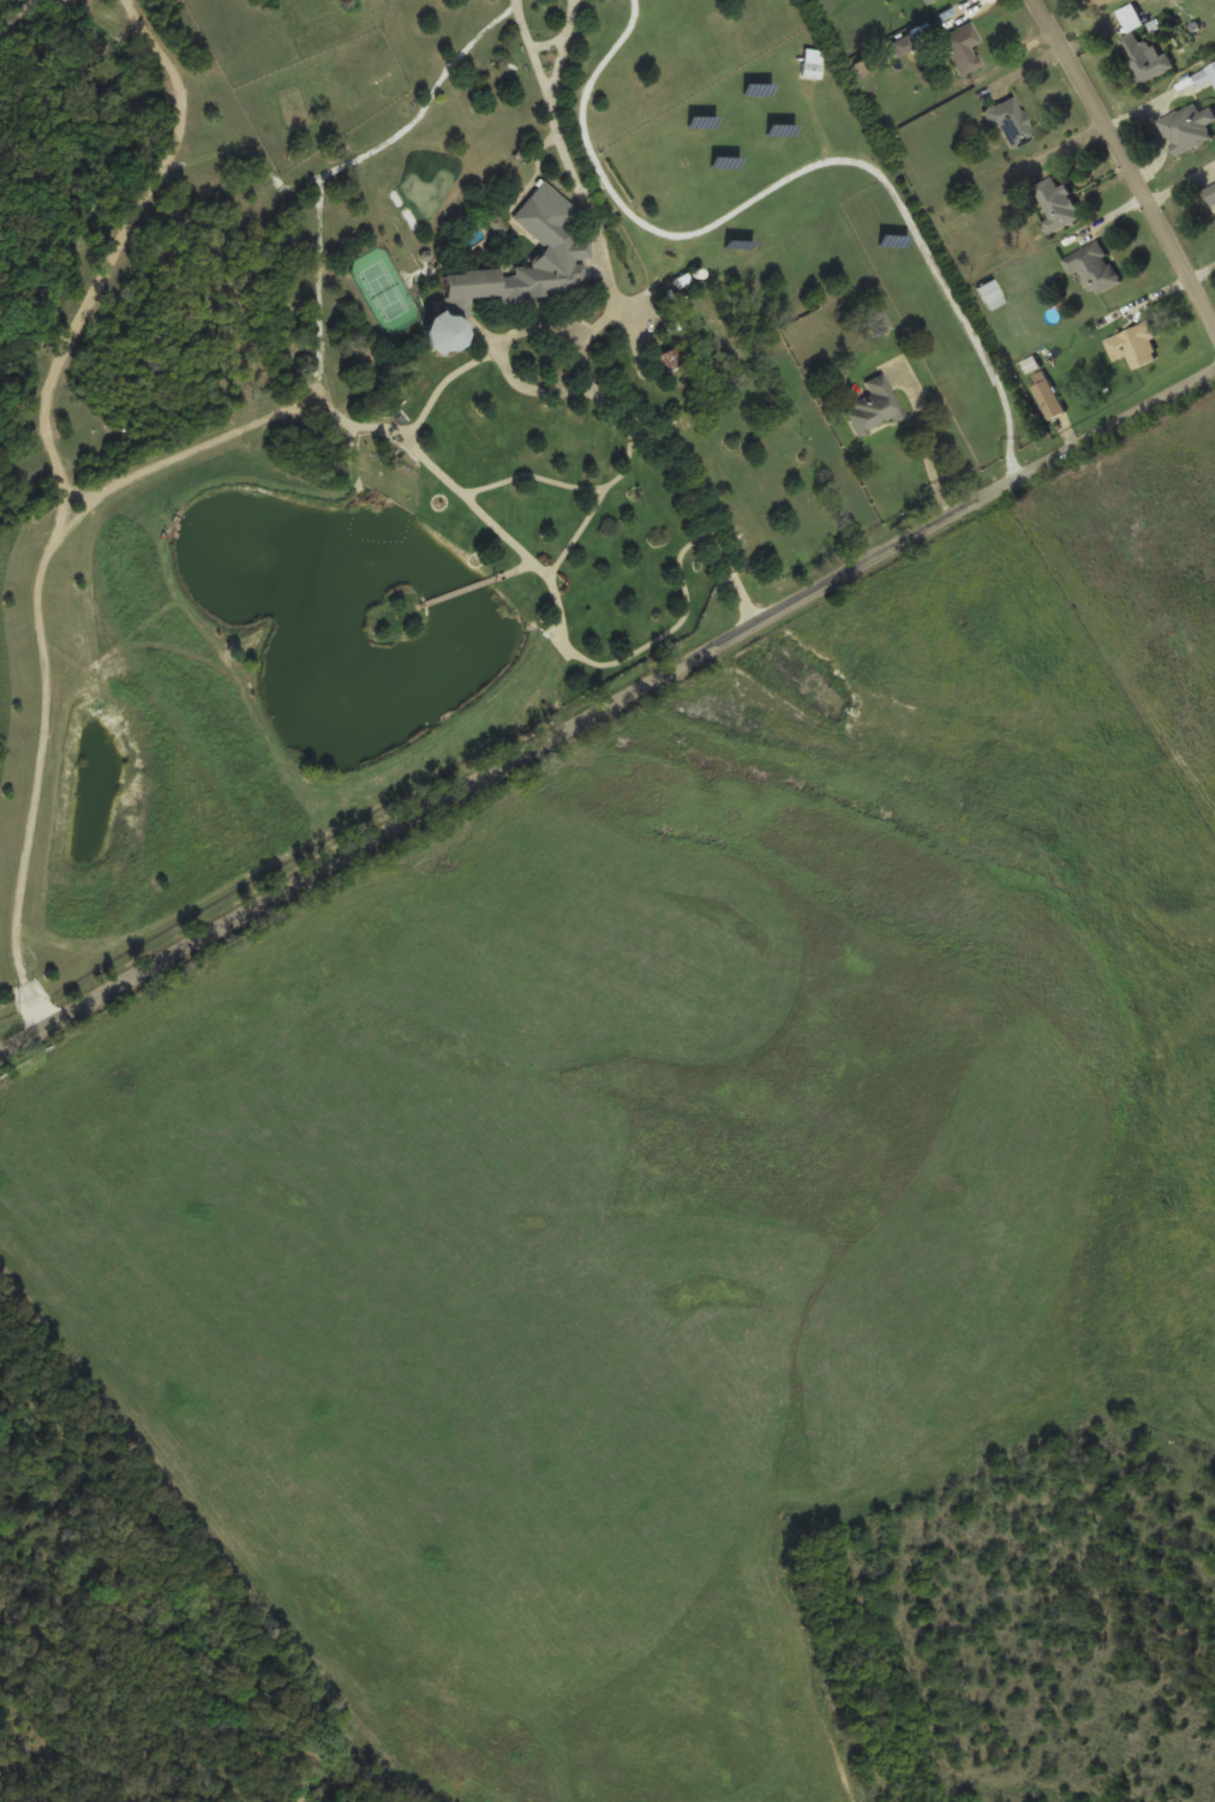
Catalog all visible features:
building: (927, 1)
building: (1101, 1)
building: (962, 48)
building: (1142, 49)
building: (810, 70)
building: (1196, 82)
building: (1011, 121)
building: (1189, 127)
road: (1117, 187)
building: (1210, 193)
building: (1057, 204)
building: (1094, 267)
building: (516, 269)
building: (990, 294)
building: (1135, 346)
building: (1048, 399)
building: (875, 406)
road: (607, 720)

